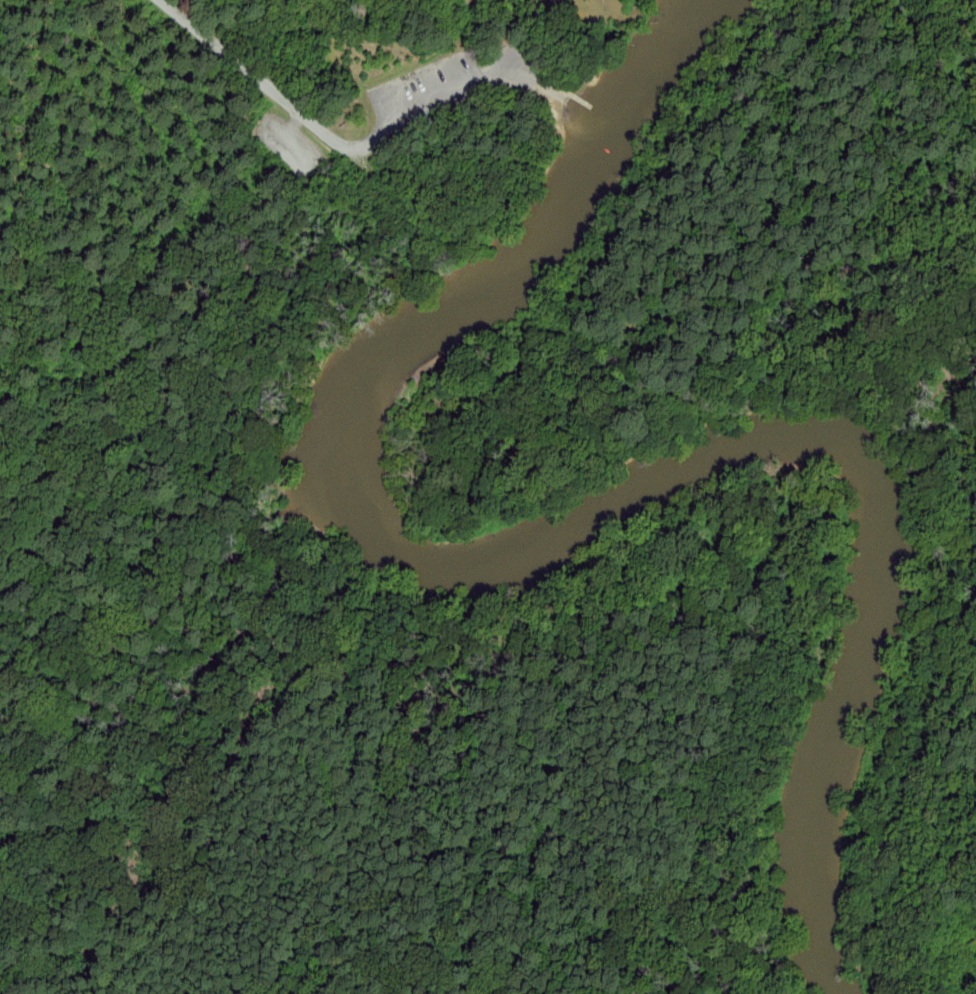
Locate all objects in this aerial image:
road: (525, 74)
pier: (568, 91)
parking lot: (431, 94)
road: (558, 95)
road: (327, 135)
river: (554, 536)

